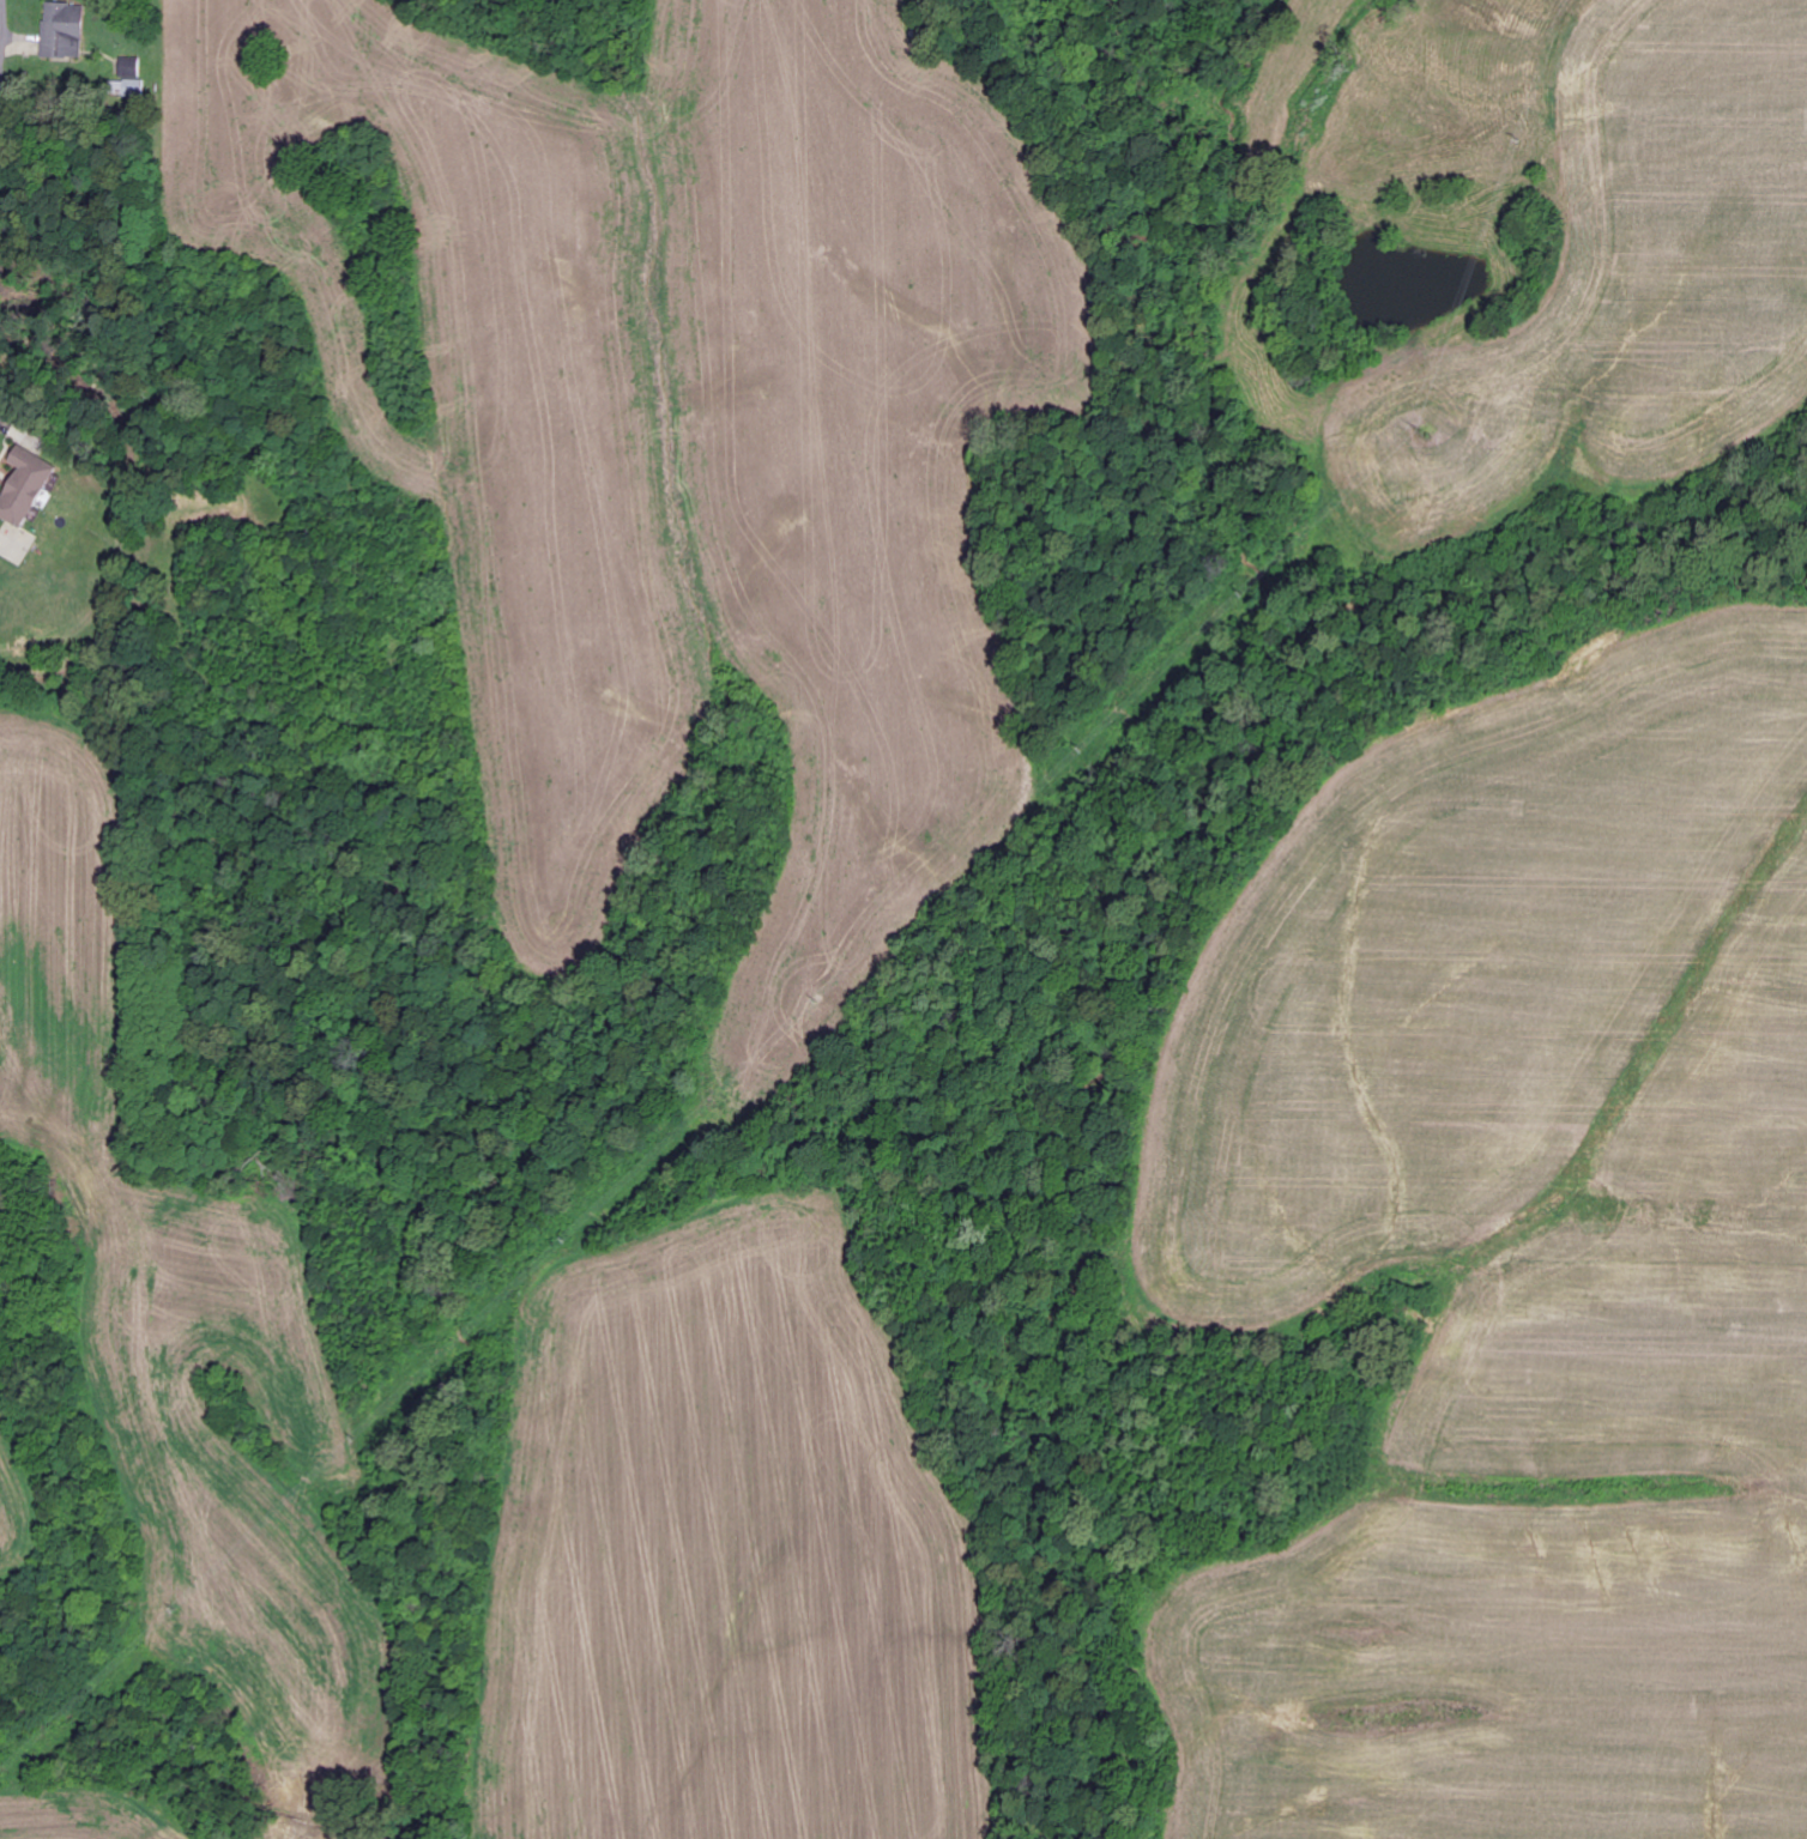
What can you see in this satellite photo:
building: (64, 30)
building: (25, 485)

